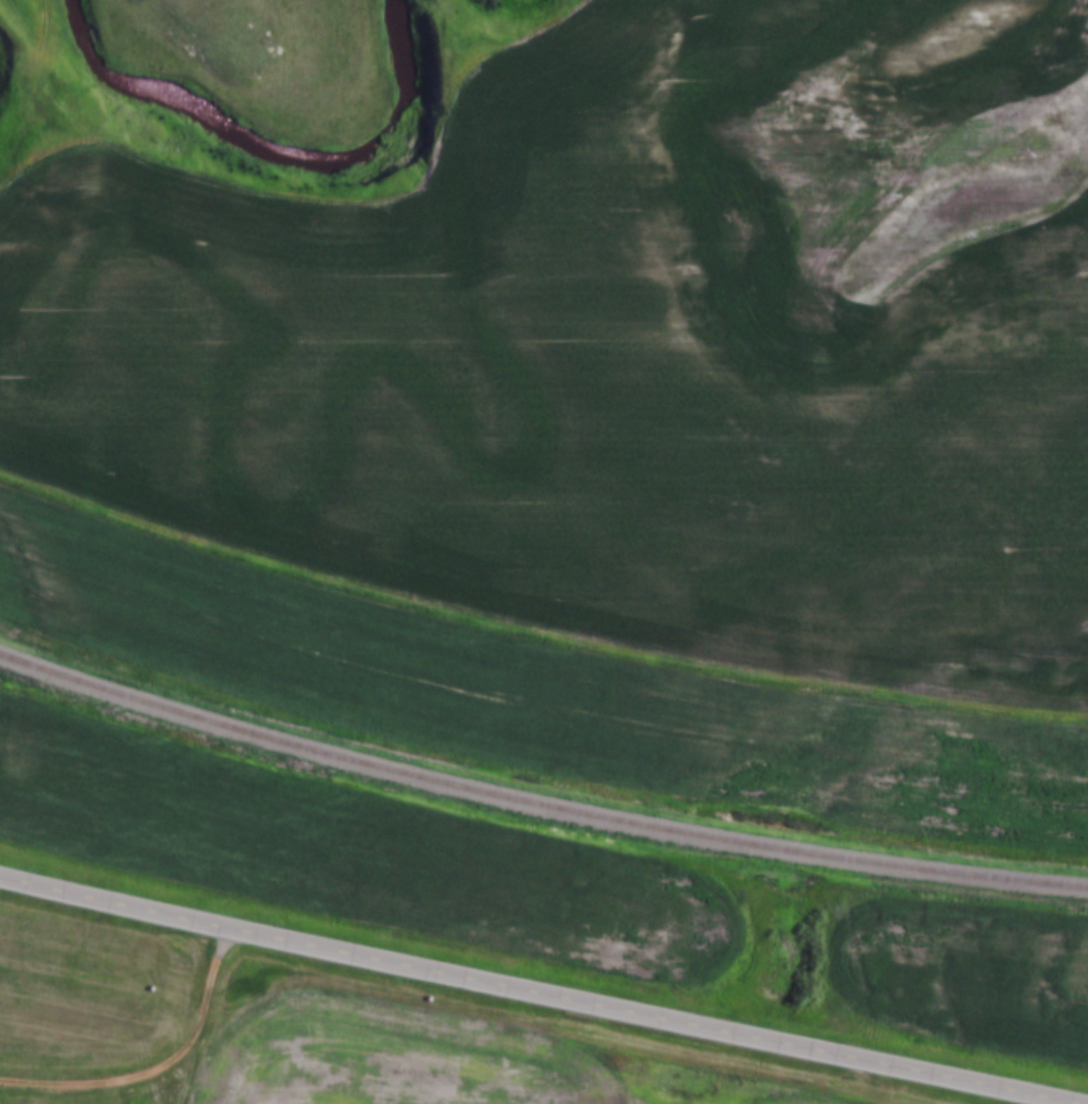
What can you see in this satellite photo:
railway: (537, 807)
road: (535, 996)
crop: (430, 1061)
road: (159, 1070)

